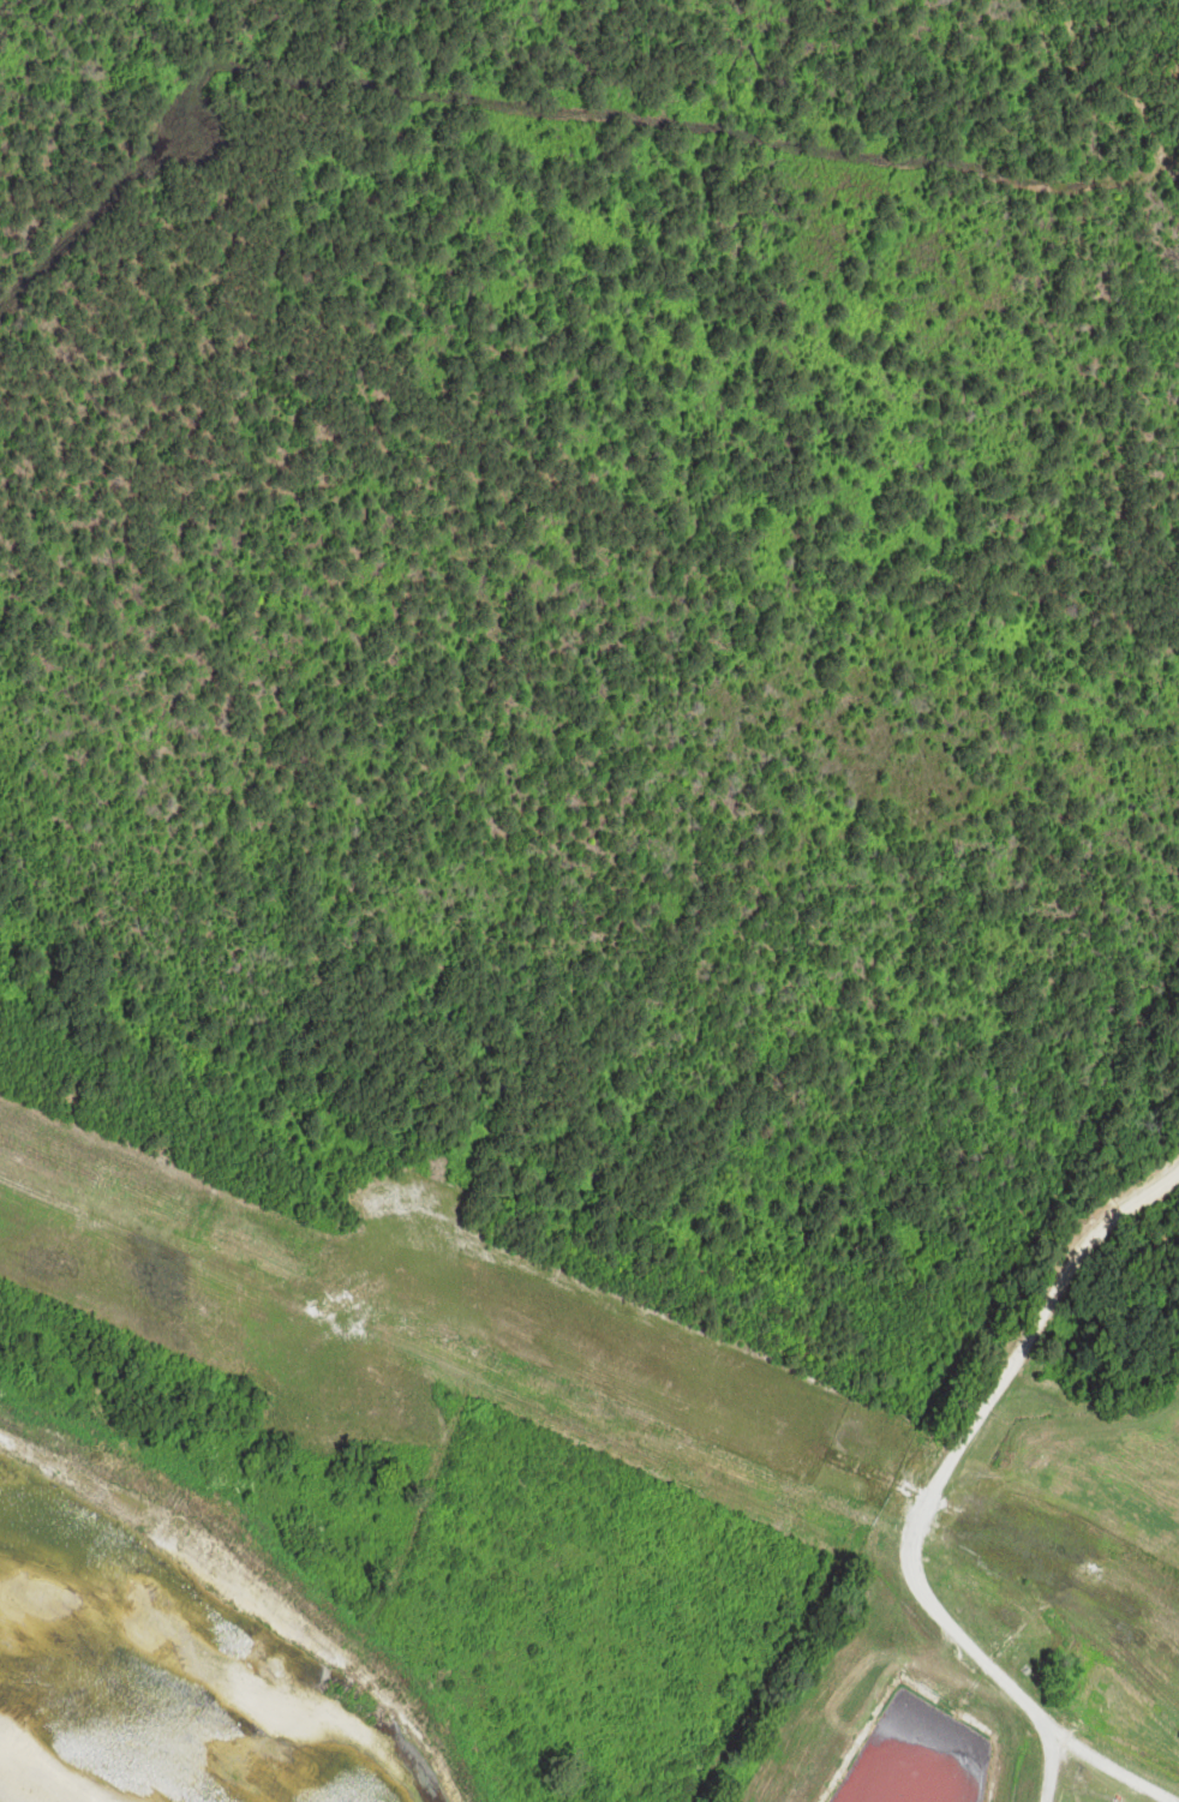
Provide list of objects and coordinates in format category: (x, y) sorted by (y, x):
road: (957, 1445)
road: (1081, 1749)

